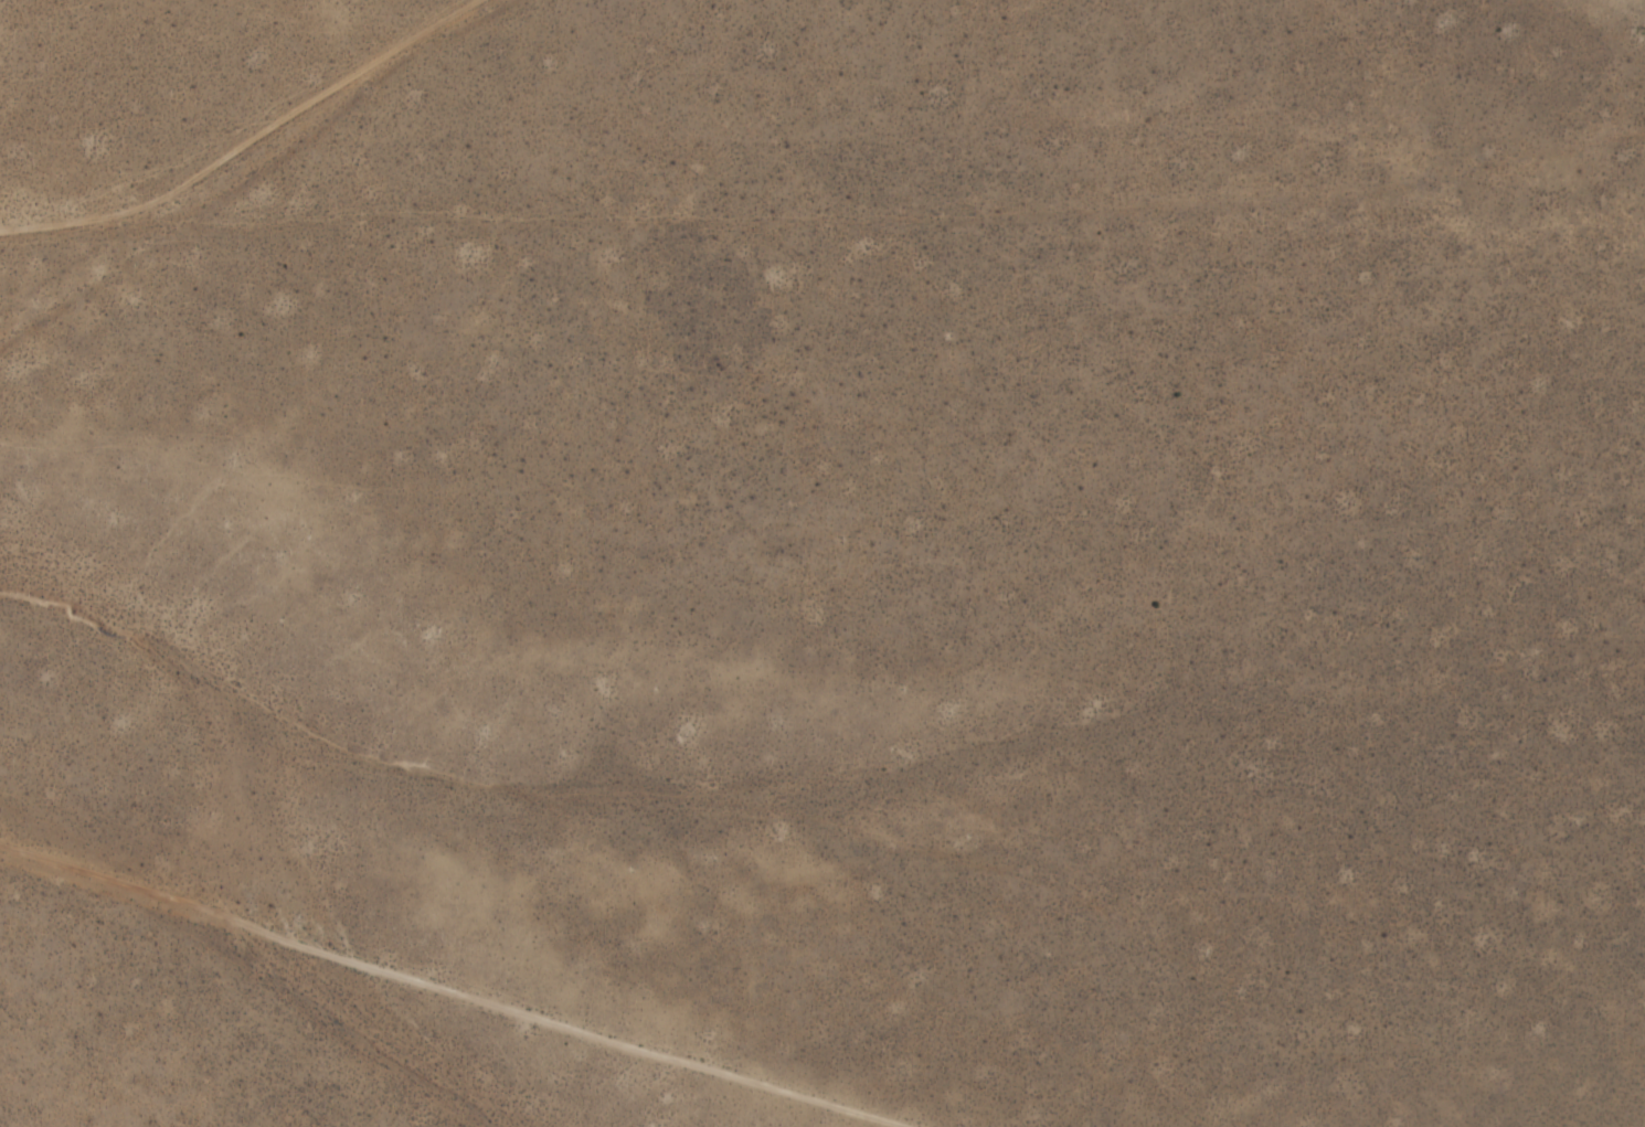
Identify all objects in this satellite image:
road: (255, 145)
road: (444, 992)

